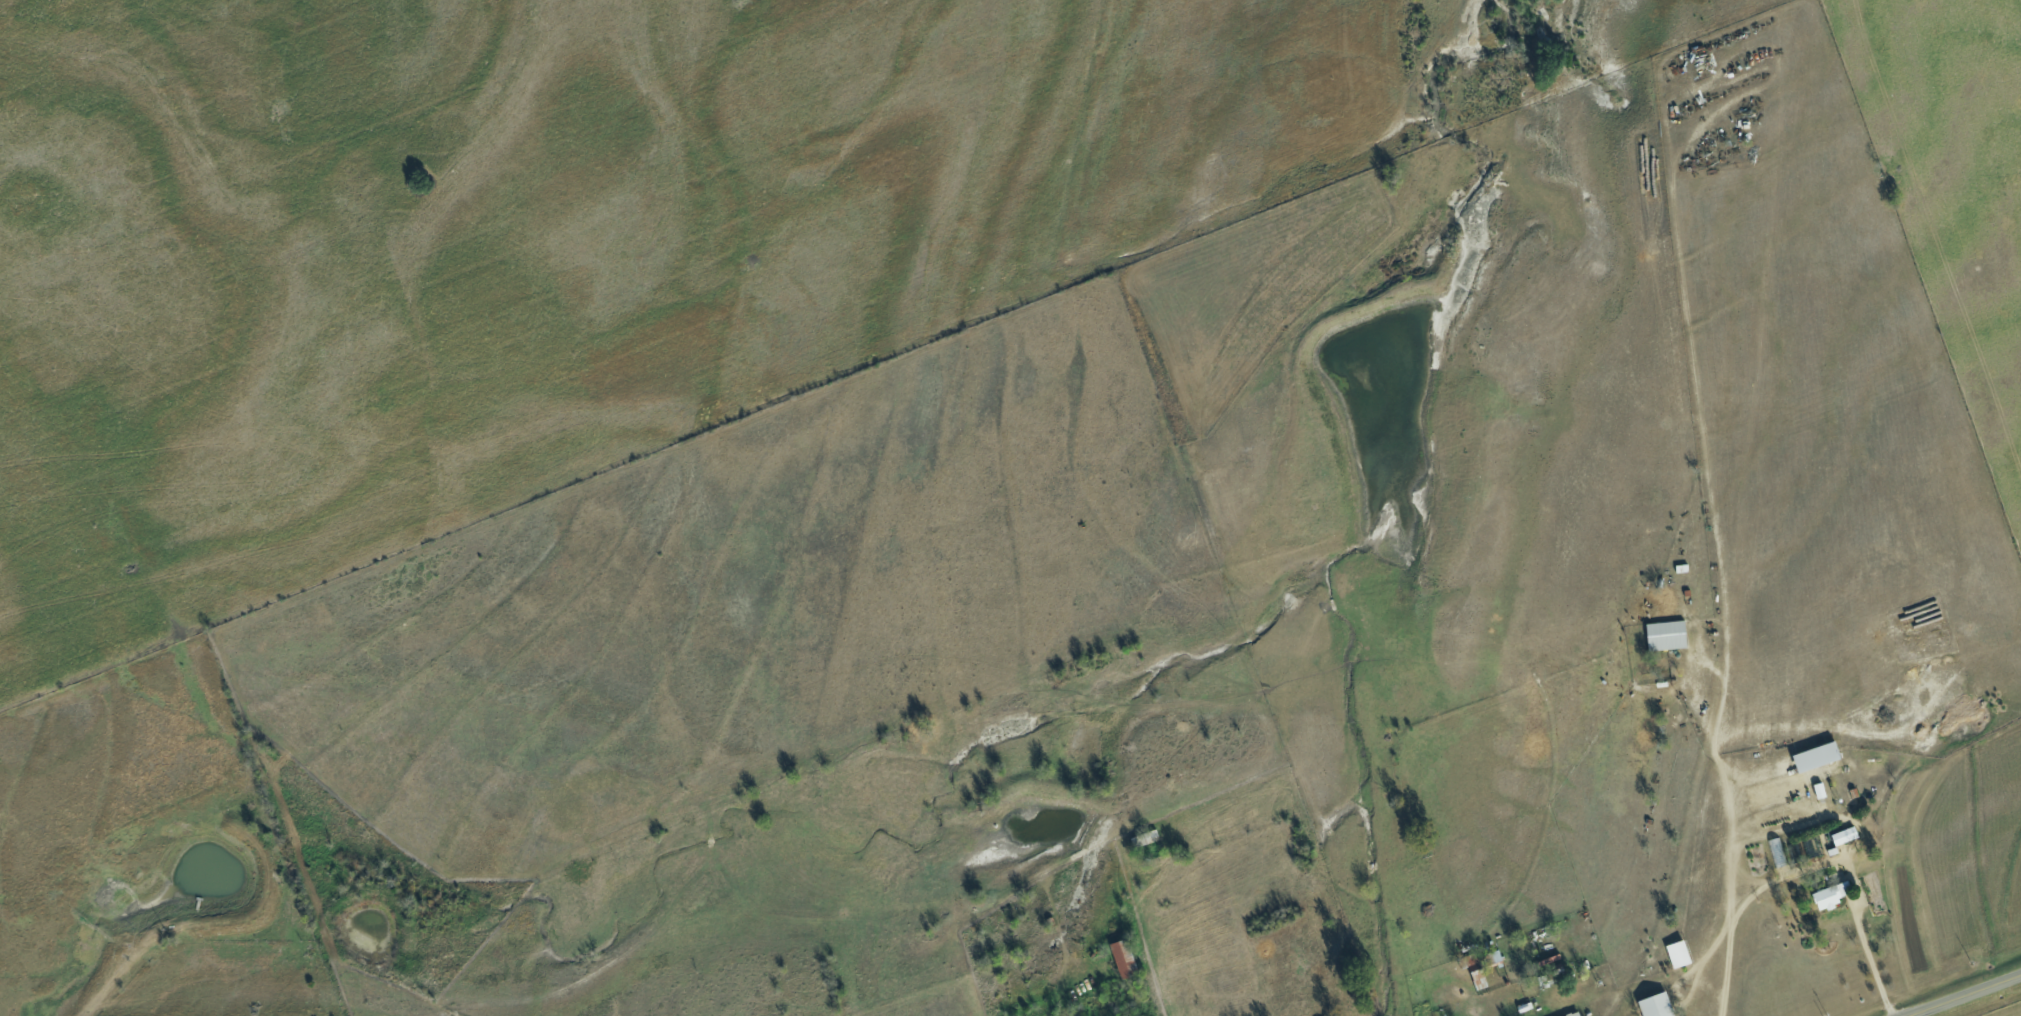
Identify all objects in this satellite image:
building: (1665, 634)
building: (1816, 755)
building: (1819, 789)
building: (1844, 835)
road: (1733, 844)
building: (1830, 895)
road: (1872, 962)
road: (1965, 995)
building: (1655, 1005)
building: (1573, 1014)

